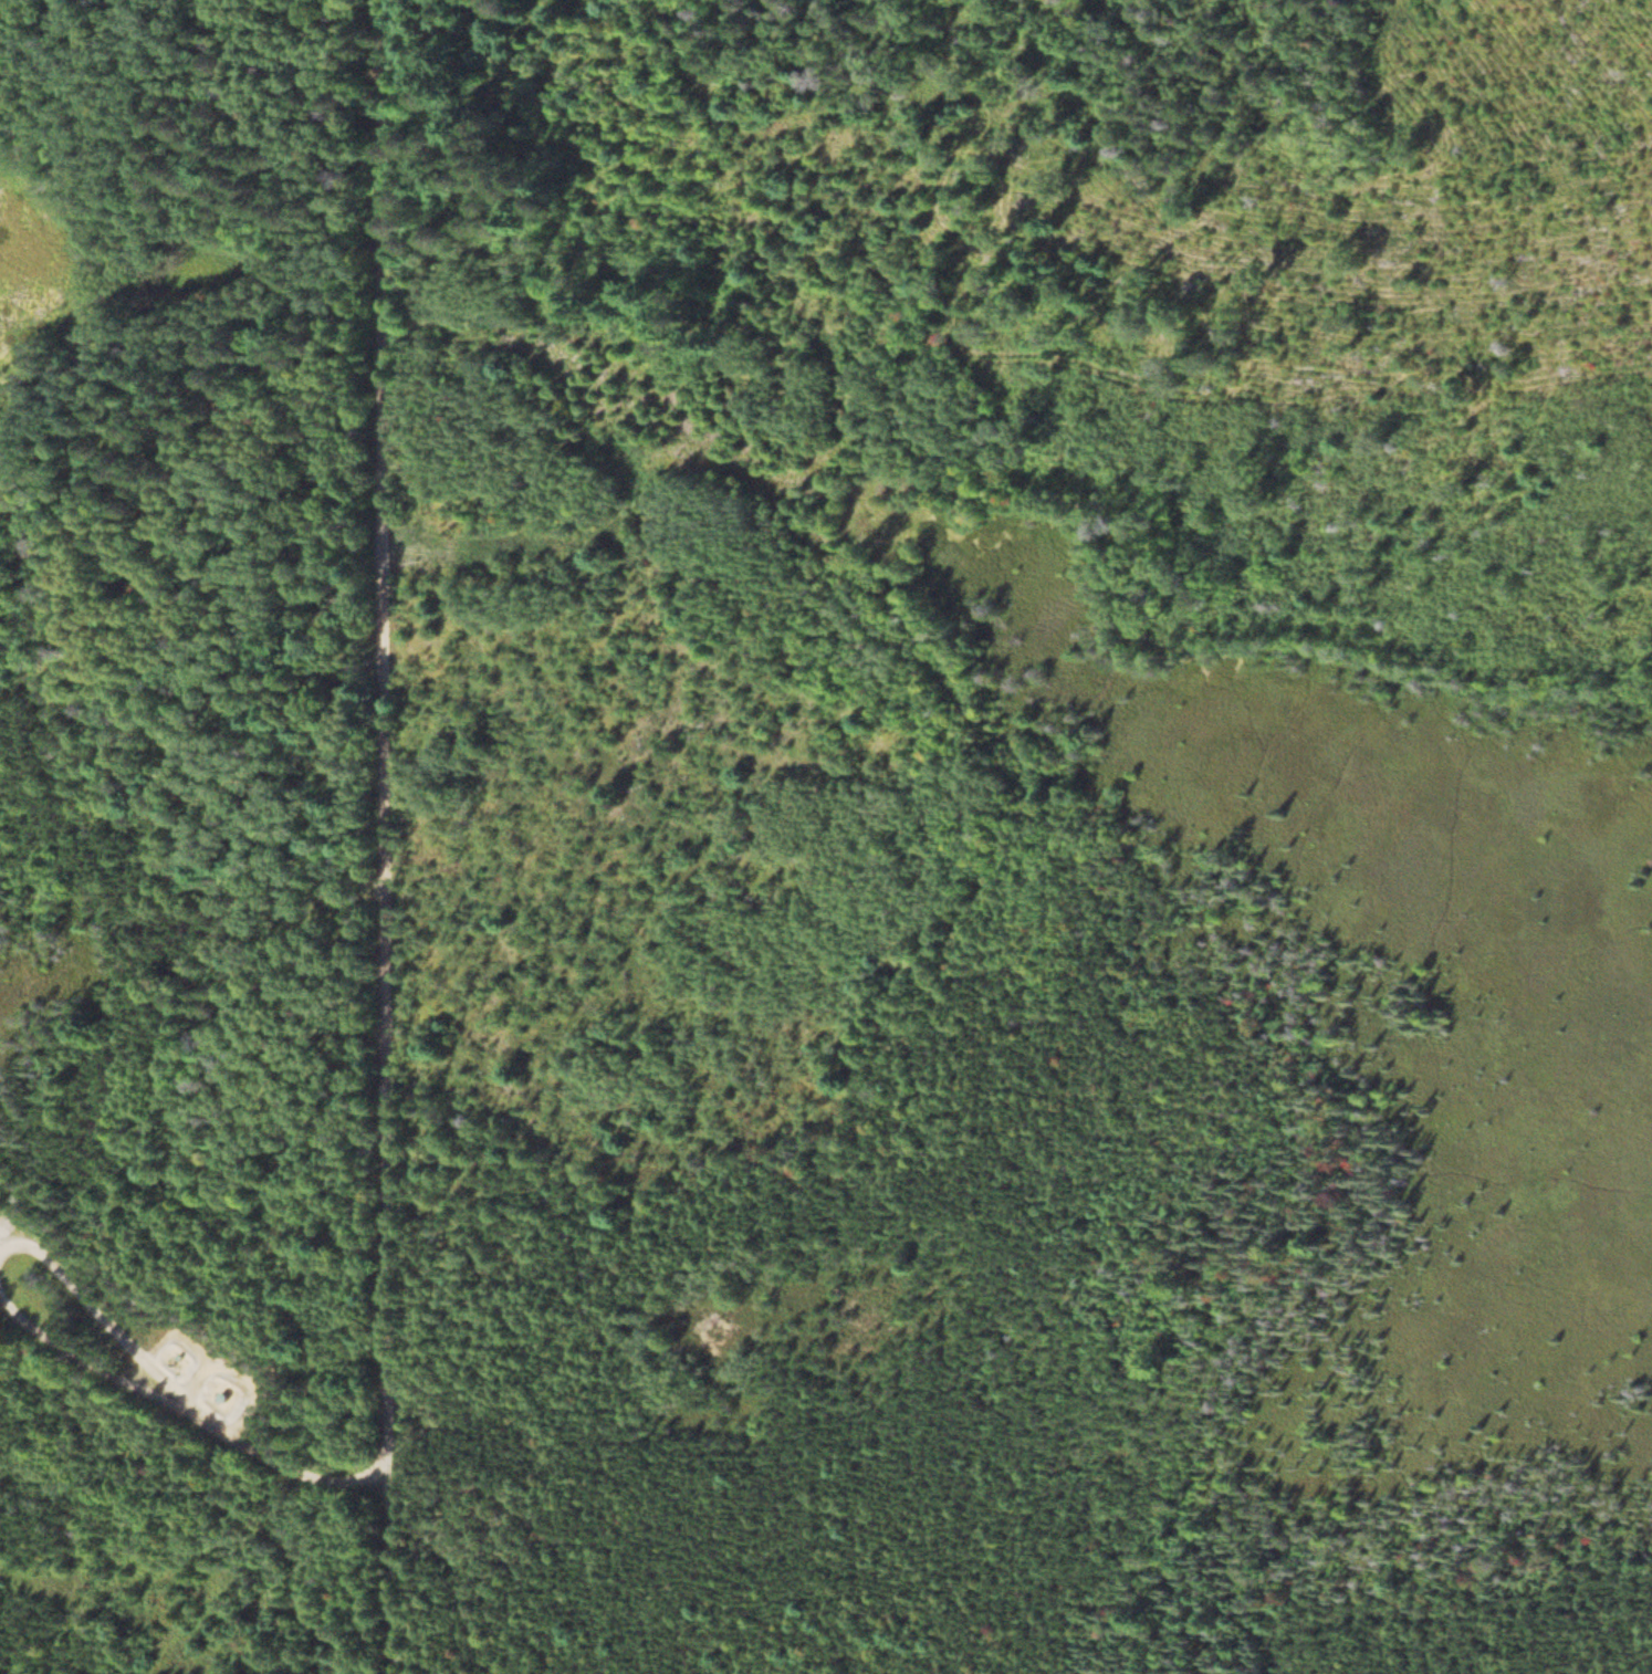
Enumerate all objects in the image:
road: (396, 837)
road: (190, 1417)

